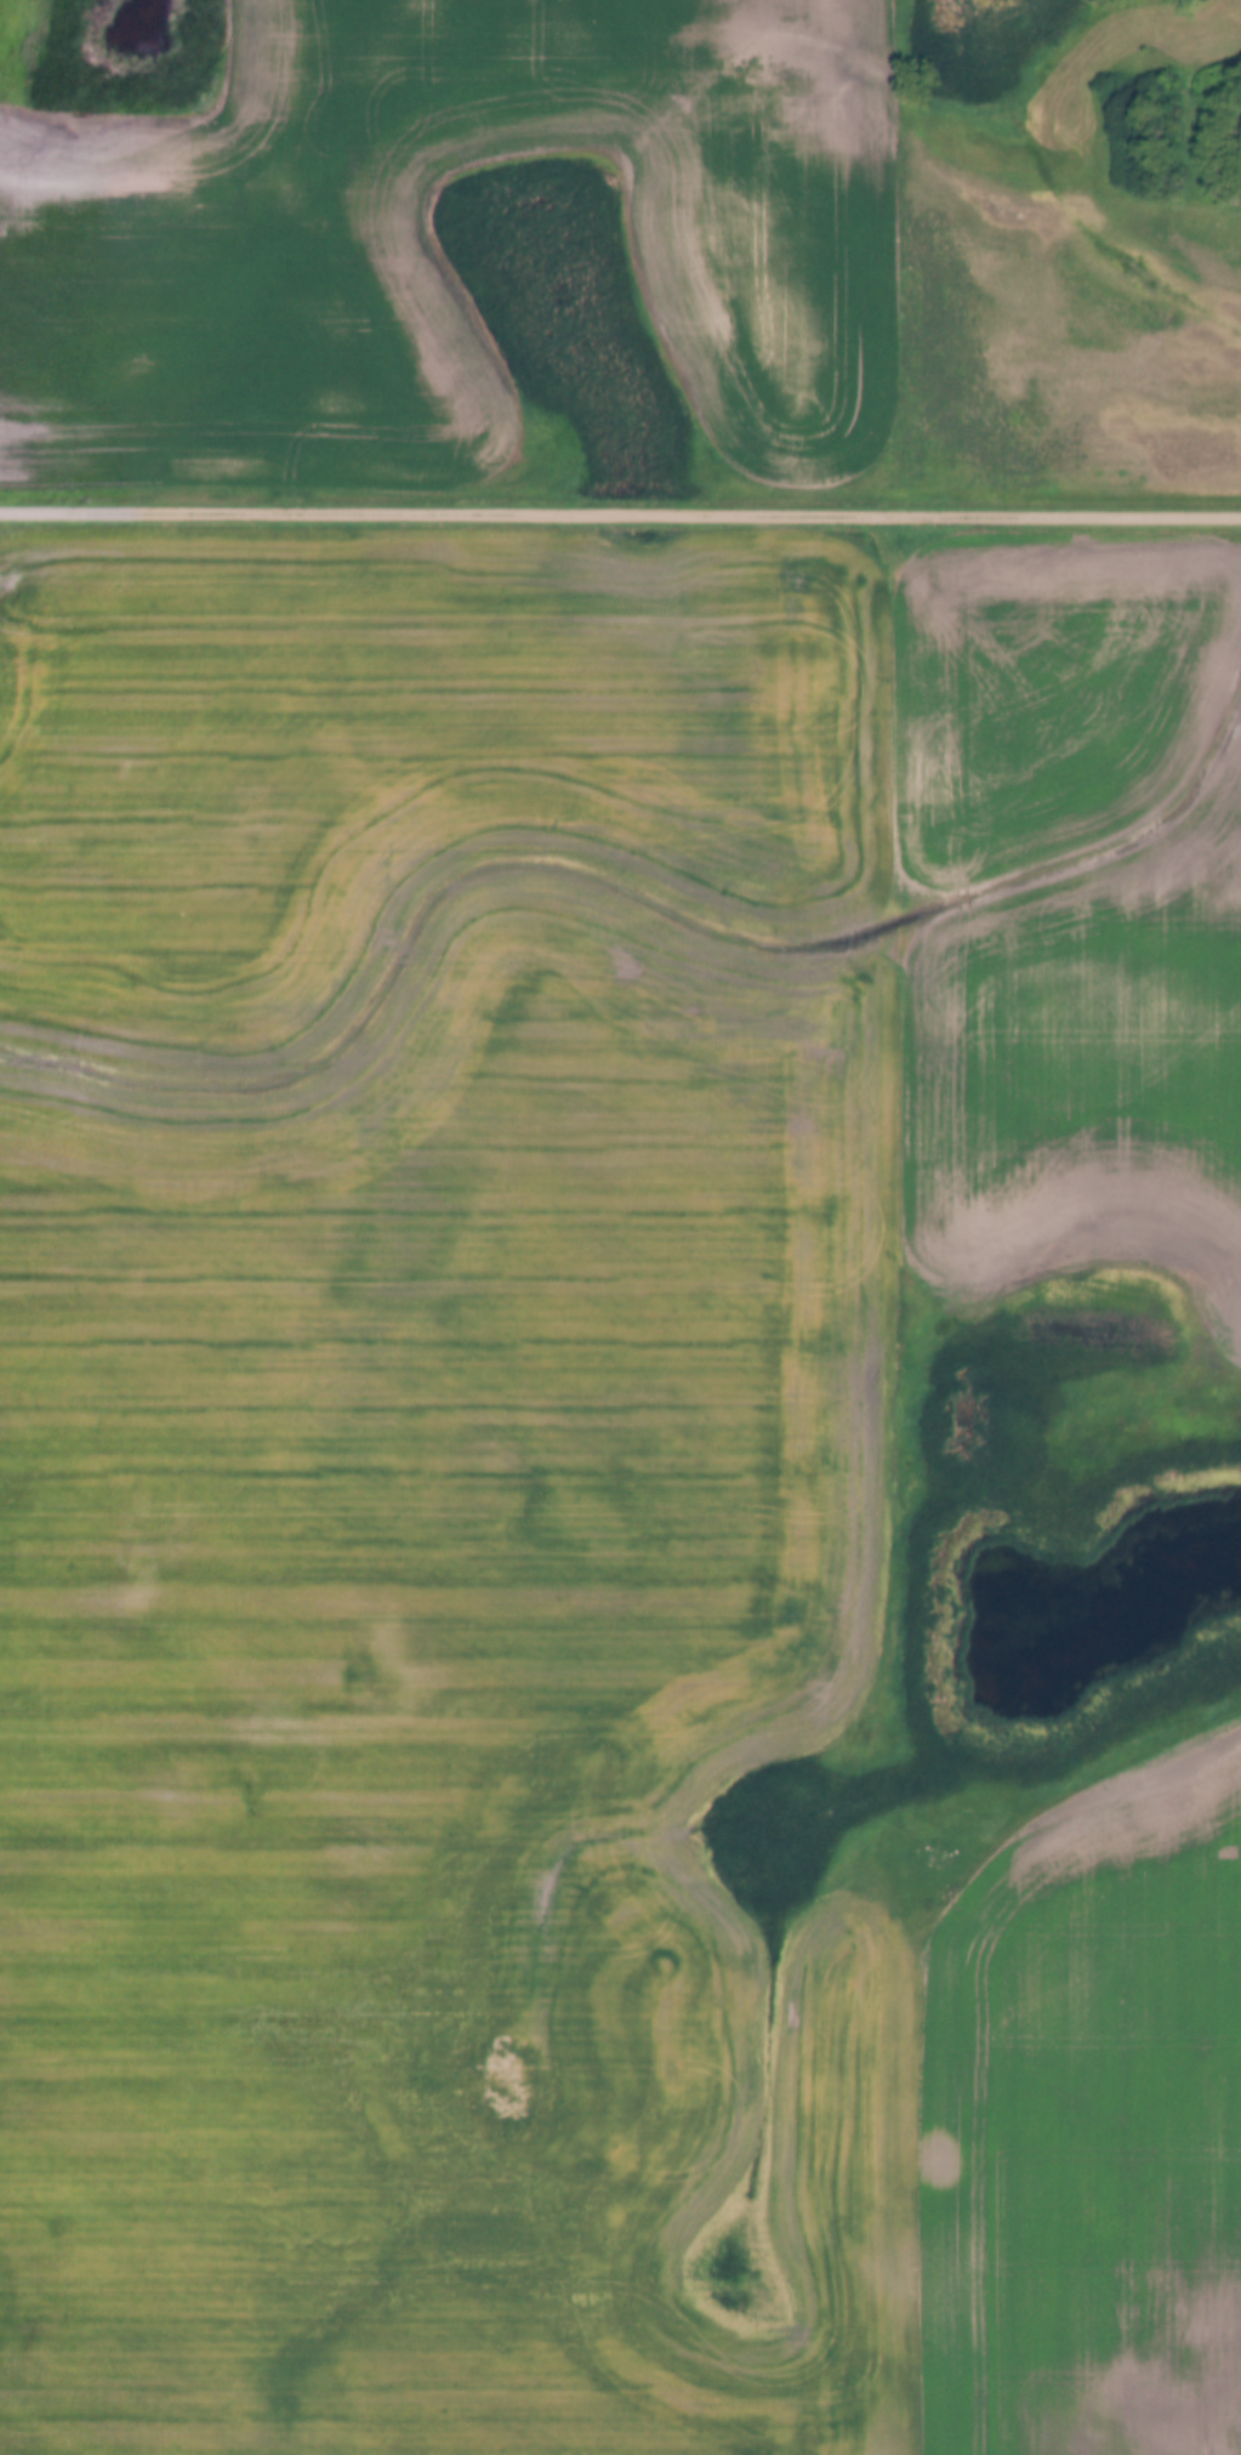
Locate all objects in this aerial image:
road: (620, 517)

